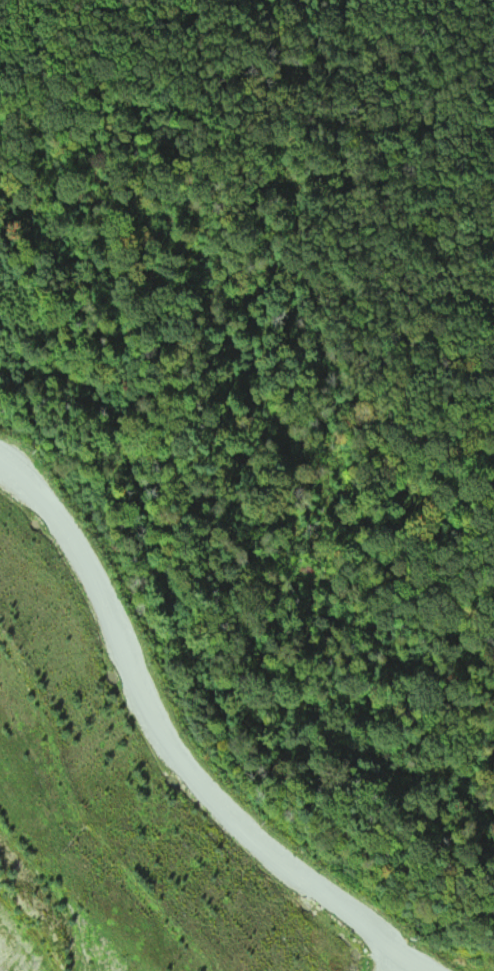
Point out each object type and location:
road: (163, 742)

